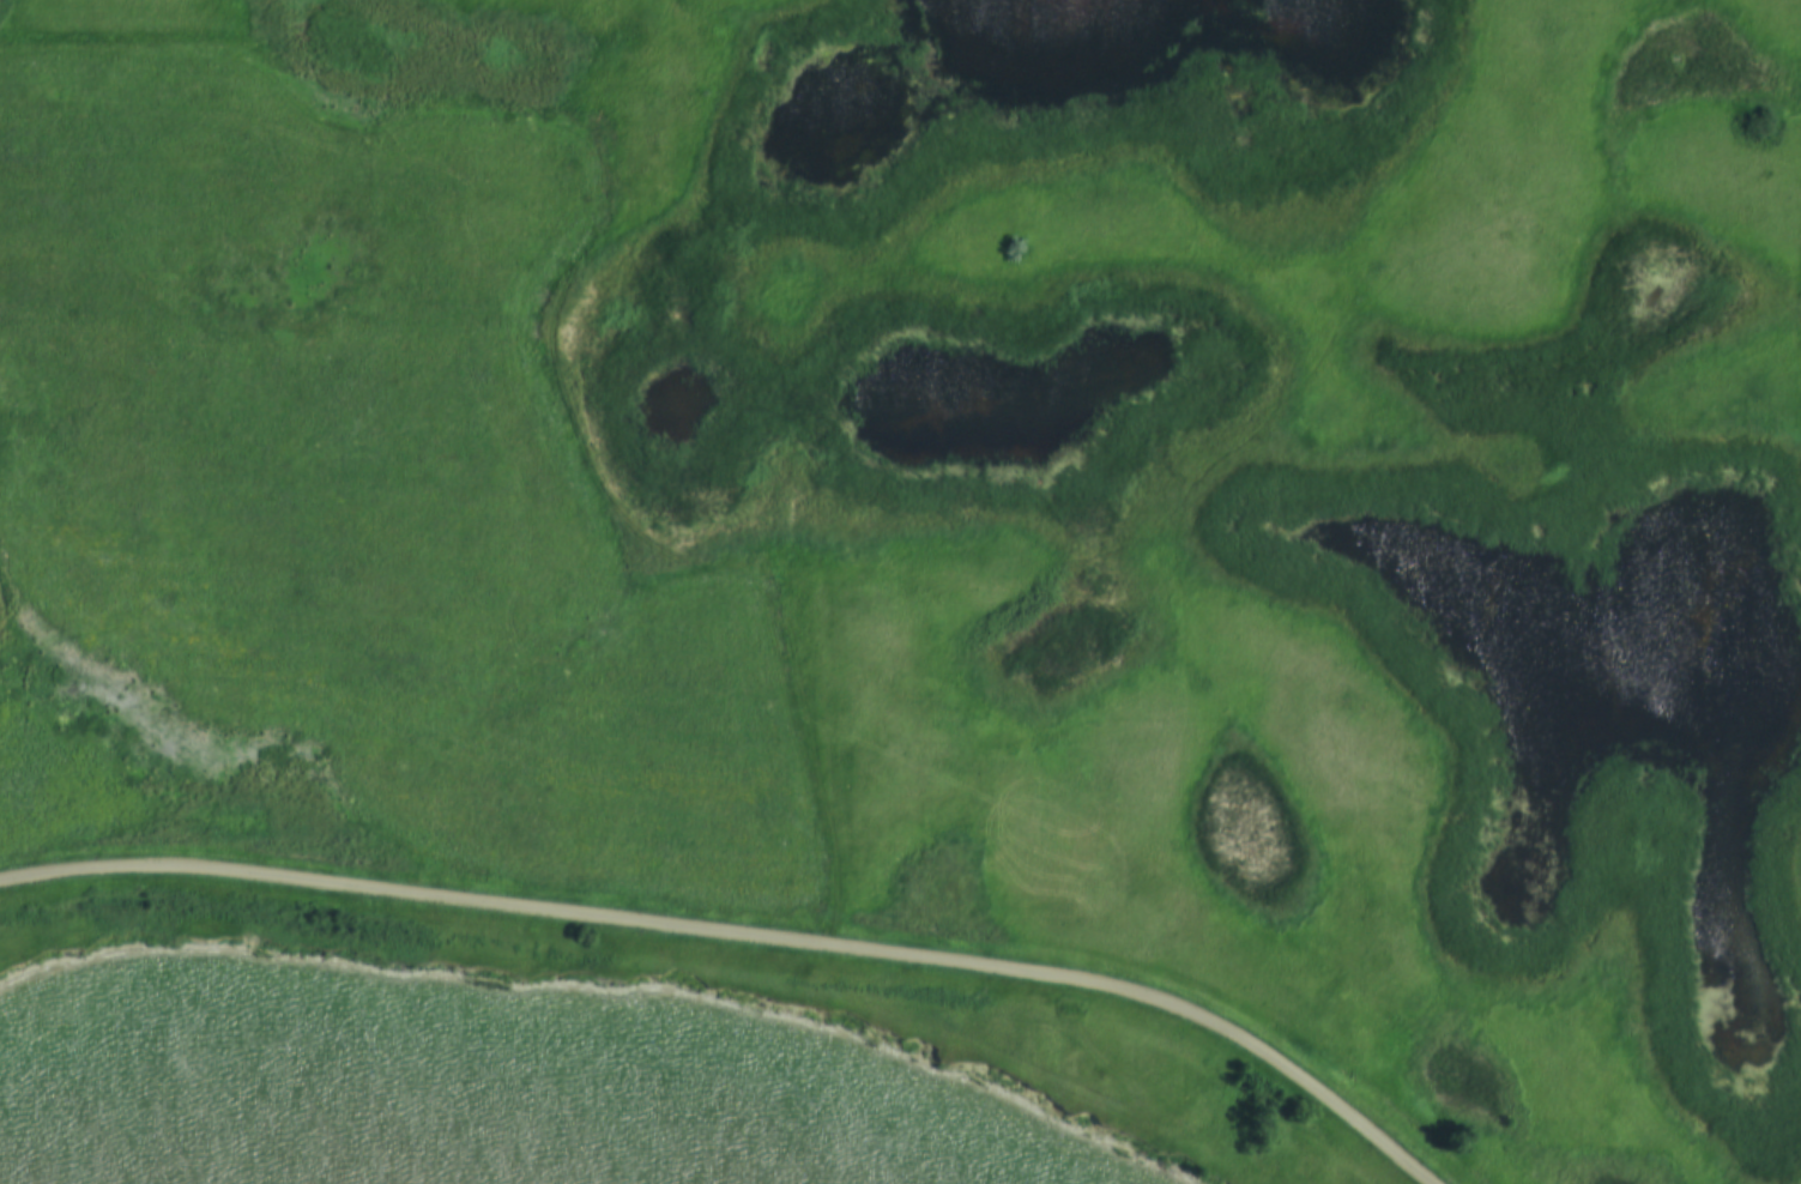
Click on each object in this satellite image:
road: (737, 941)

